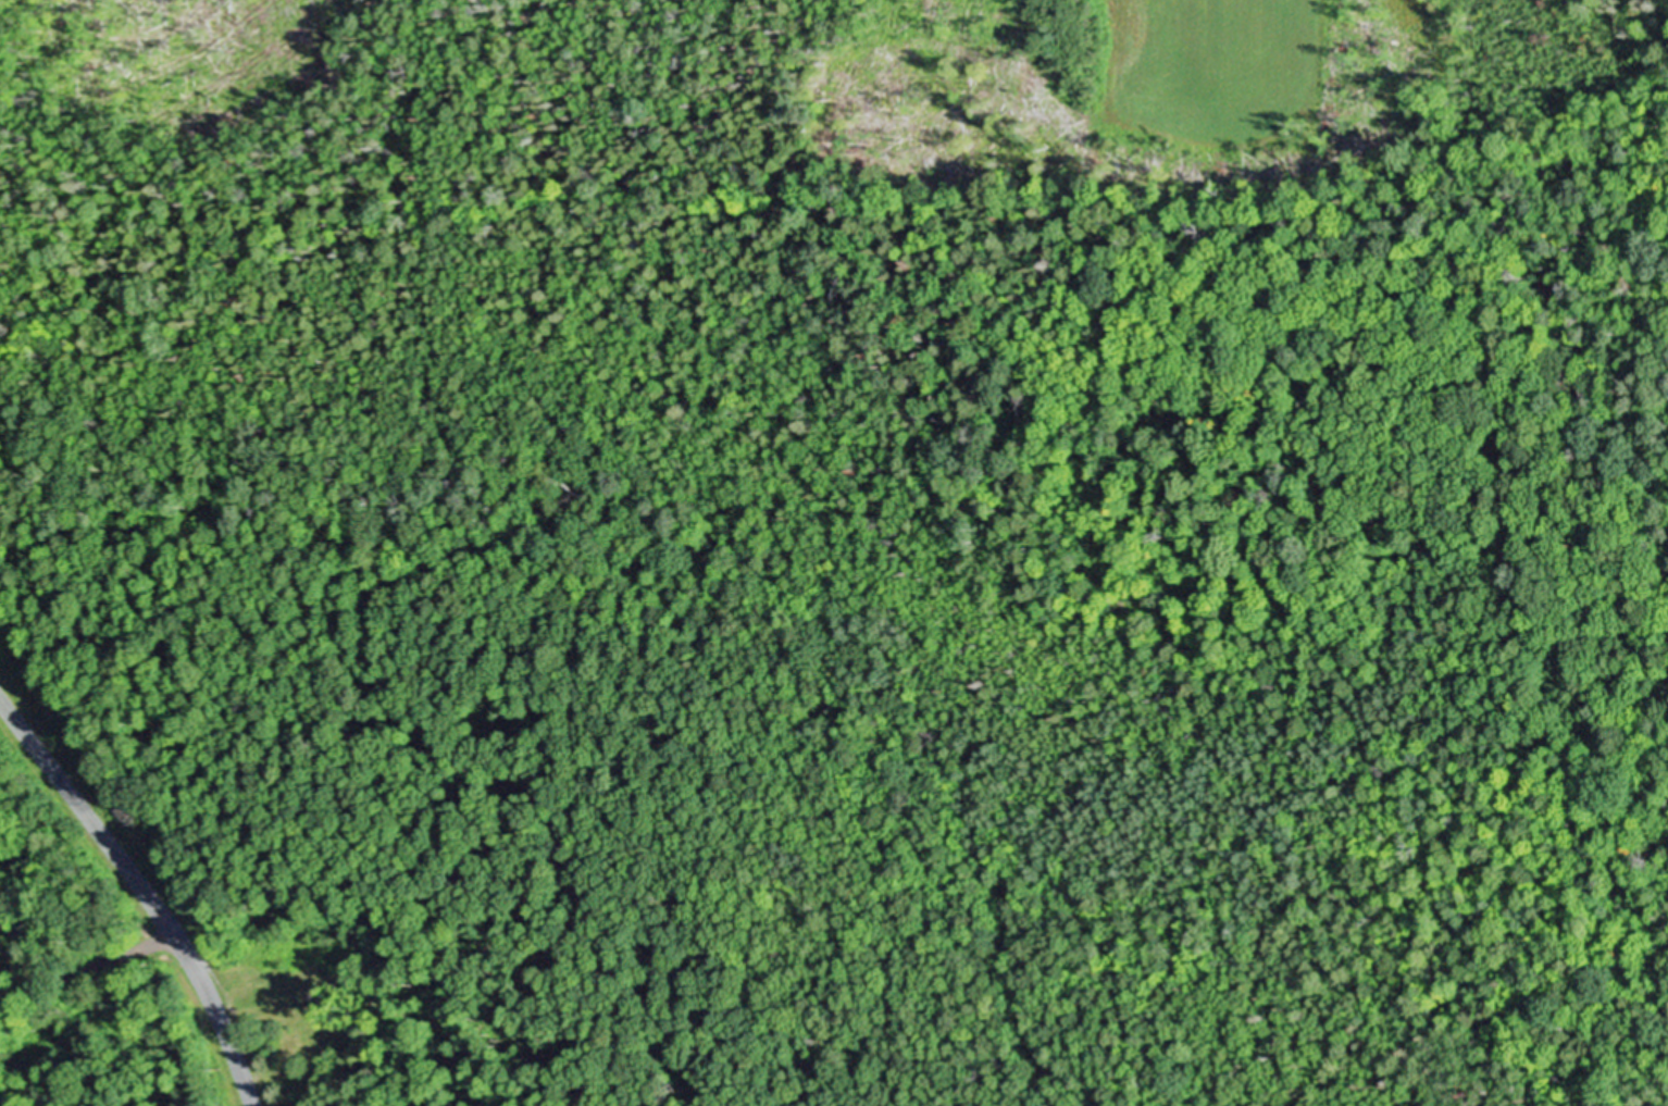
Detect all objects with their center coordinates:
road: (144, 891)
road: (2, 912)
road: (2, 914)
road: (84, 967)

